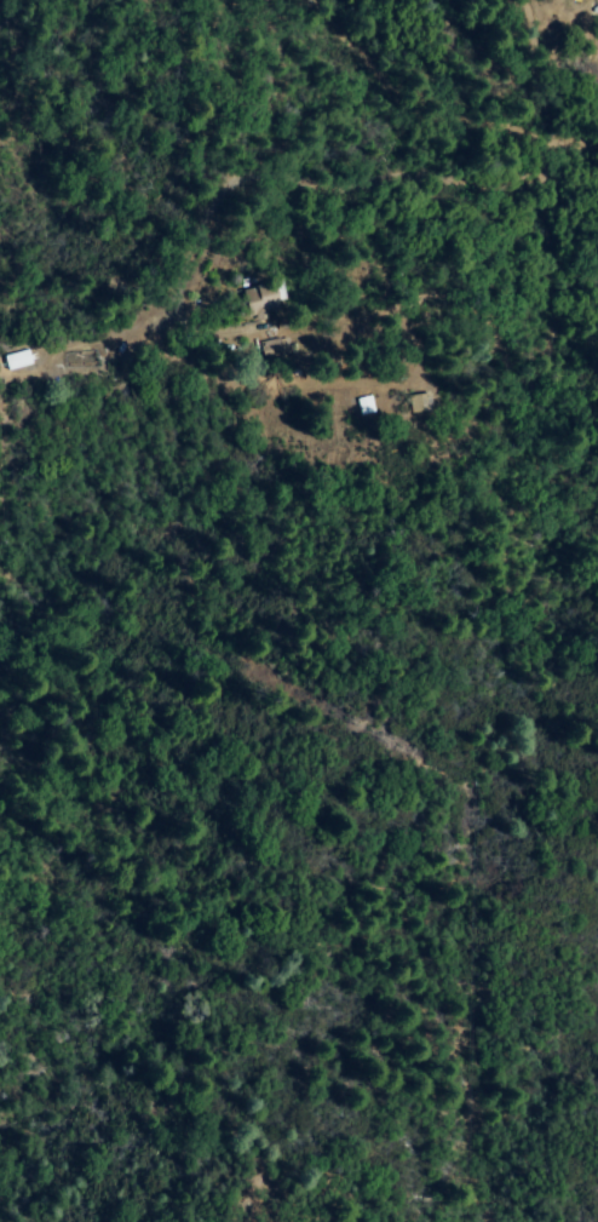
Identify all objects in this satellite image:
road: (481, 188)
building: (253, 303)
building: (268, 349)
building: (13, 361)
building: (416, 403)
building: (362, 406)

